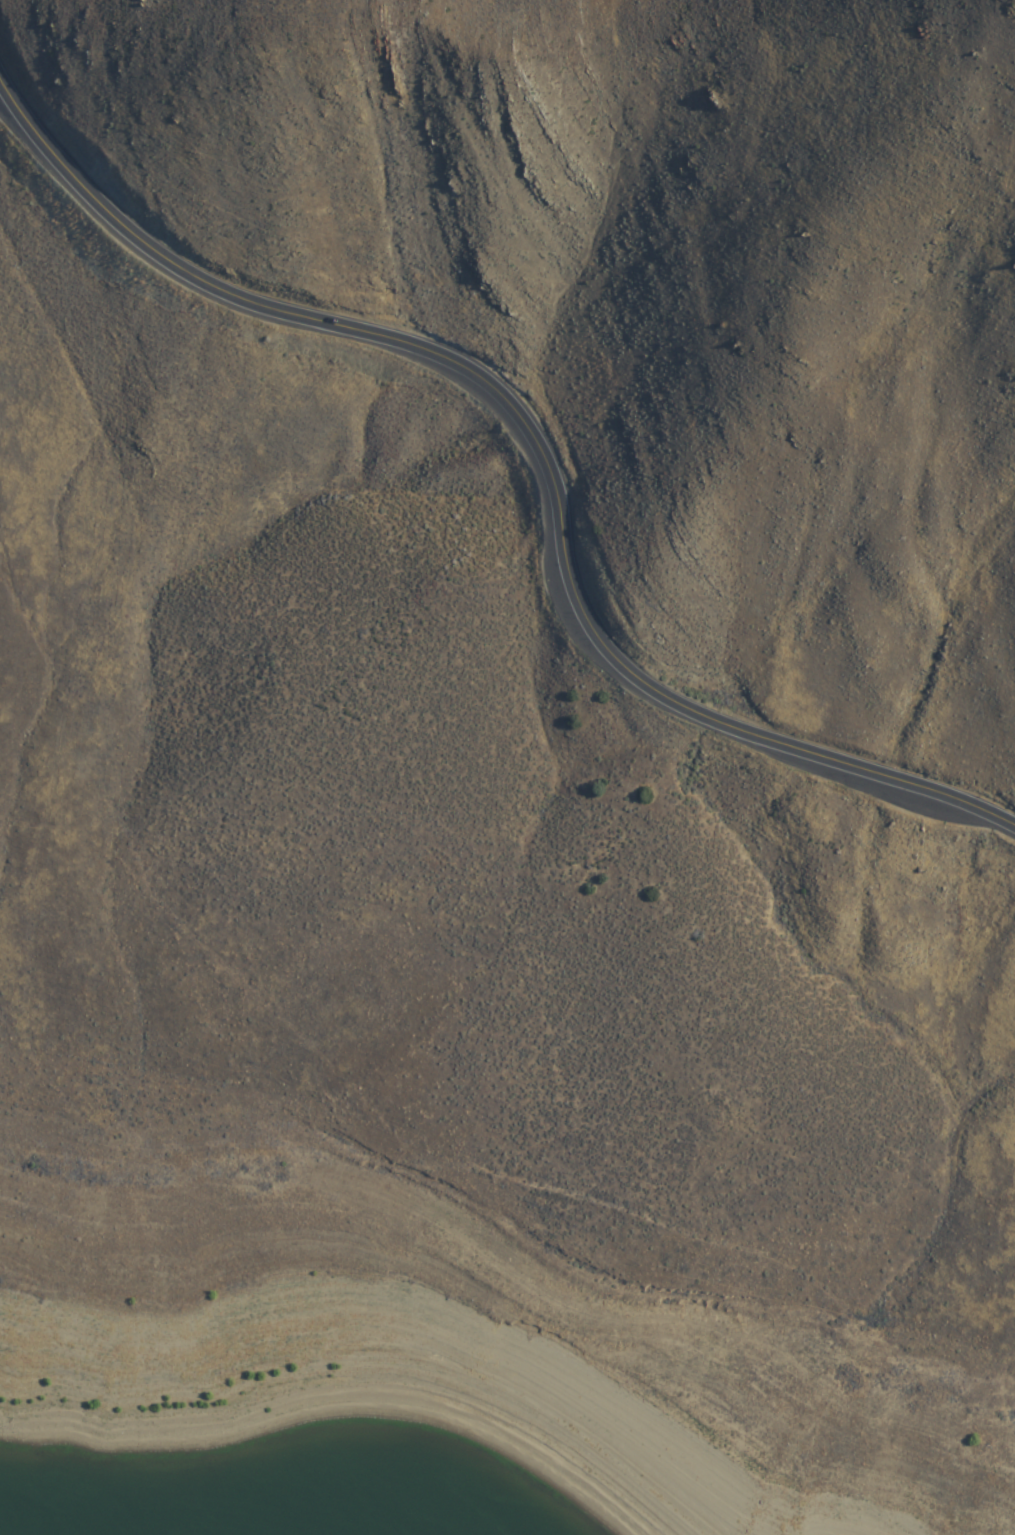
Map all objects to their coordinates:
road: (536, 439)
road: (64, 1060)
road: (513, 1237)

